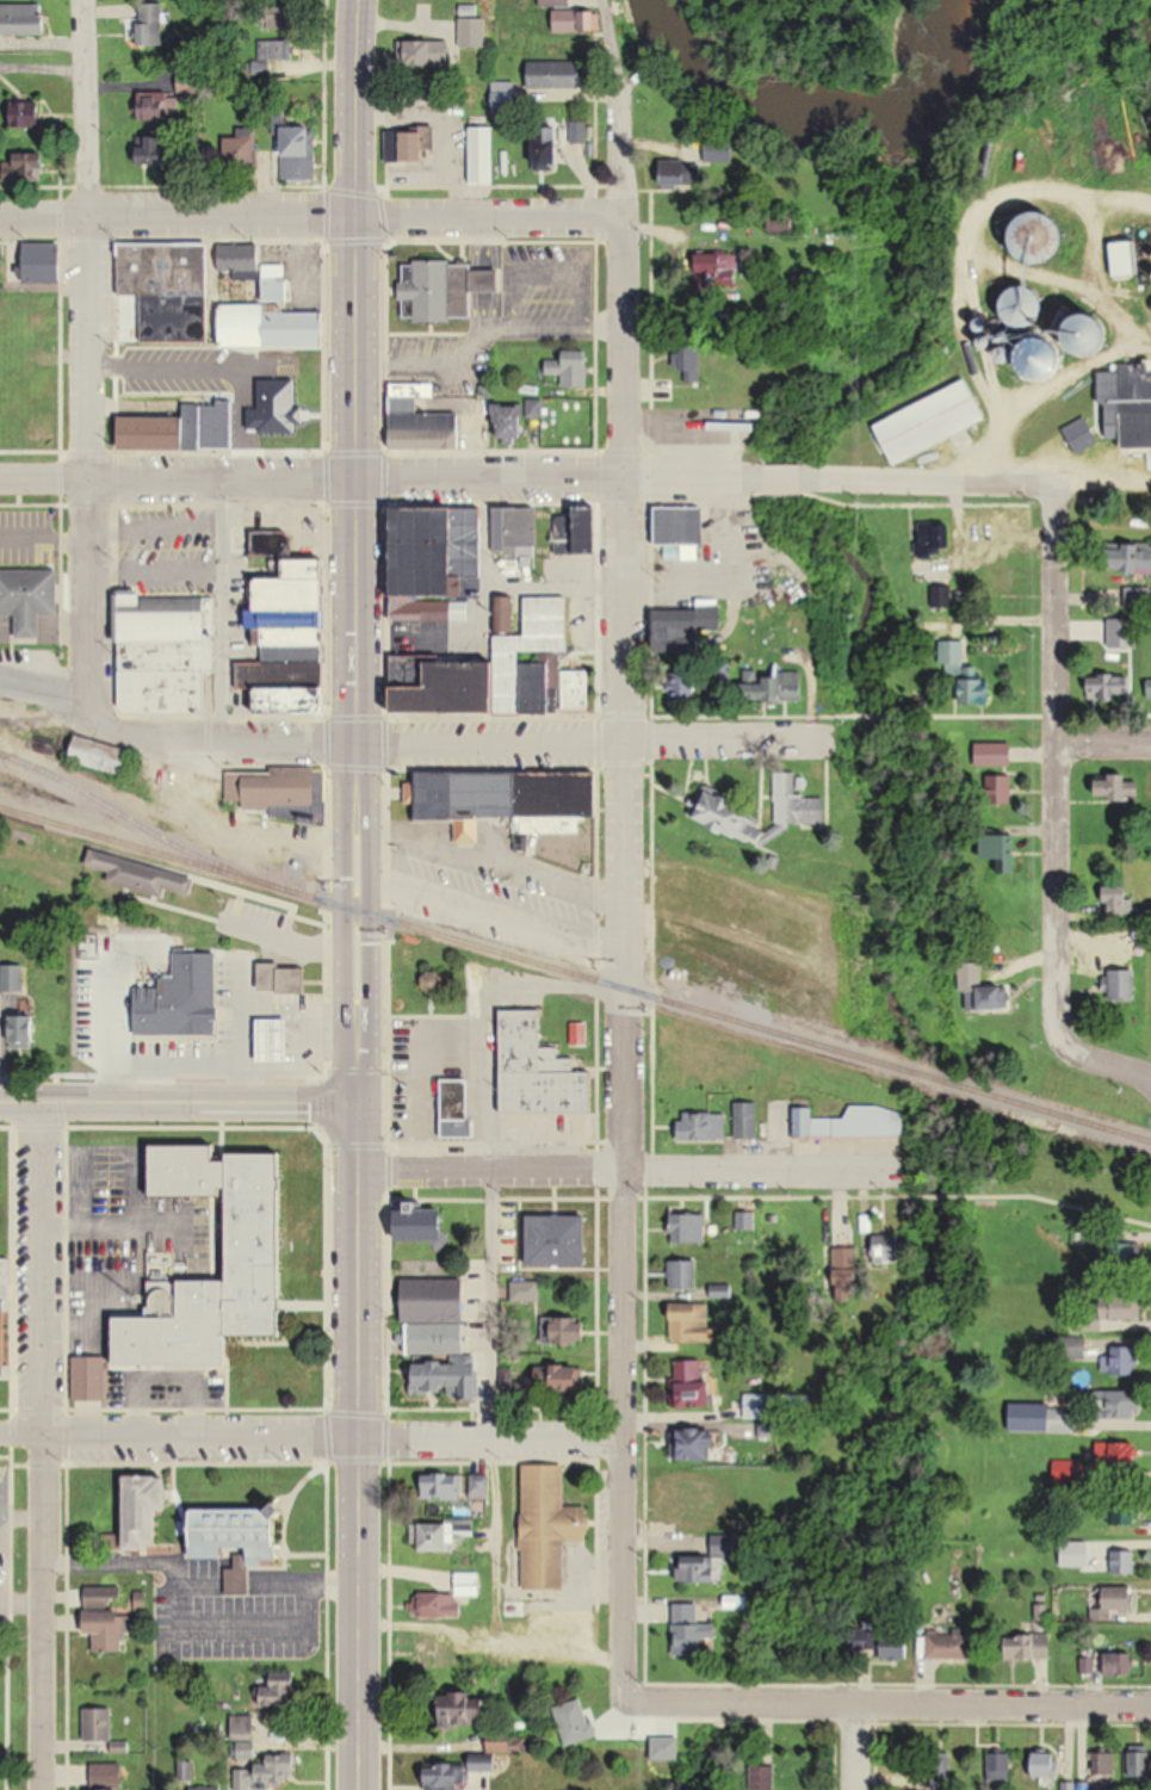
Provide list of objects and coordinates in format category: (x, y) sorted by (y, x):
building: (553, 2)
building: (23, 19)
building: (278, 21)
building: (574, 21)
building: (150, 24)
building: (472, 30)
river: (1020, 43)
building: (277, 50)
building: (426, 54)
building: (556, 75)
building: (191, 81)
river: (811, 105)
building: (154, 106)
building: (505, 109)
building: (30, 114)
building: (580, 132)
building: (419, 145)
building: (245, 148)
building: (549, 149)
building: (154, 150)
building: (717, 150)
building: (302, 154)
building: (483, 154)
building: (24, 171)
road: (312, 219)
building: (786, 229)
building: (1124, 259)
building: (44, 264)
building: (278, 278)
road: (978, 287)
building: (168, 289)
building: (444, 291)
road: (88, 358)
building: (692, 365)
building: (573, 370)
building: (169, 373)
building: (246, 378)
building: (423, 421)
building: (932, 422)
building: (513, 423)
building: (1081, 427)
road: (575, 475)
building: (518, 527)
building: (682, 531)
building: (582, 533)
building: (934, 537)
building: (439, 546)
road: (357, 552)
building: (1130, 563)
road: (558, 588)
building: (29, 597)
building: (1138, 597)
road: (223, 606)
building: (429, 609)
road: (489, 621)
building: (292, 639)
building: (165, 652)
building: (505, 671)
building: (966, 673)
building: (778, 687)
building: (682, 688)
building: (1112, 692)
road: (663, 714)
road: (1033, 714)
road: (880, 716)
road: (410, 737)
road: (1103, 737)
building: (995, 754)
building: (100, 756)
building: (1115, 786)
building: (1000, 789)
building: (271, 791)
road: (1056, 795)
building: (513, 798)
building: (713, 800)
building: (796, 801)
railway: (140, 825)
road: (626, 841)
building: (1001, 850)
road: (494, 859)
building: (141, 874)
building: (1119, 903)
building: (722, 906)
building: (848, 961)
railway: (575, 974)
building: (279, 977)
building: (11, 979)
building: (1124, 984)
building: (761, 987)
building: (194, 997)
building: (989, 998)
building: (98, 1002)
road: (487, 1010)
building: (21, 1030)
building: (274, 1039)
road: (1141, 1069)
building: (540, 1071)
road: (180, 1103)
building: (456, 1108)
building: (747, 1120)
building: (850, 1123)
building: (703, 1126)
road: (626, 1169)
building: (747, 1220)
building: (422, 1227)
building: (688, 1227)
building: (256, 1238)
building: (558, 1240)
building: (881, 1255)
building: (1125, 1257)
building: (683, 1274)
building: (848, 1280)
building: (1122, 1313)
building: (4, 1315)
building: (693, 1323)
building: (435, 1326)
building: (570, 1332)
building: (1116, 1361)
building: (86, 1379)
building: (443, 1379)
building: (561, 1383)
building: (691, 1386)
building: (1118, 1405)
road: (494, 1410)
building: (1060, 1420)
road: (311, 1437)
road: (42, 1445)
building: (695, 1445)
road: (359, 1448)
building: (1116, 1454)
building: (440, 1485)
building: (478, 1487)
building: (144, 1509)
building: (694, 1512)
building: (549, 1525)
building: (443, 1535)
building: (240, 1544)
building: (725, 1544)
building: (699, 1569)
road: (193, 1587)
building: (450, 1598)
building: (1113, 1606)
park: (12, 1618)
building: (107, 1629)
road: (240, 1631)
building: (693, 1639)
building: (861, 1645)
building: (949, 1645)
building: (1031, 1647)
road: (490, 1648)
building: (896, 1650)
building: (434, 1655)
building: (1119, 1665)
building: (281, 1692)
road: (875, 1703)
building: (462, 1711)
building: (575, 1722)
building: (97, 1724)
road: (854, 1746)
building: (664, 1748)
building: (1046, 1764)
building: (1139, 1764)
building: (1001, 1769)
building: (261, 1774)
building: (447, 1776)
building: (763, 1778)
building: (105, 1782)

